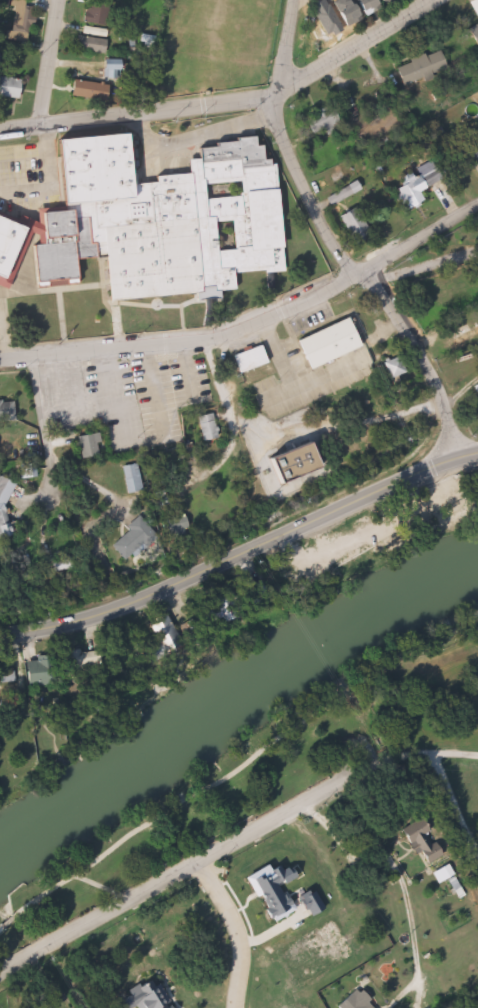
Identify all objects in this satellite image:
building: (93, 12)
building: (16, 19)
building: (91, 44)
road: (49, 65)
building: (101, 65)
building: (415, 67)
building: (7, 88)
building: (82, 91)
road: (230, 102)
building: (316, 120)
road: (281, 143)
building: (469, 151)
road: (45, 180)
building: (416, 186)
building: (153, 224)
road: (277, 300)
road: (3, 340)
building: (322, 345)
road: (31, 349)
building: (246, 359)
road: (418, 361)
road: (182, 363)
road: (71, 377)
road: (149, 383)
road: (112, 385)
parking lot: (165, 385)
building: (476, 389)
building: (115, 395)
building: (9, 411)
road: (225, 412)
building: (92, 446)
building: (302, 463)
road: (65, 475)
building: (136, 478)
building: (8, 511)
building: (144, 531)
road: (240, 544)
building: (229, 608)
building: (166, 642)
building: (86, 663)
building: (45, 673)
building: (9, 677)
road: (456, 752)
road: (242, 770)
road: (317, 790)
building: (412, 838)
building: (313, 877)
road: (227, 933)
building: (339, 934)
road: (53, 940)
building: (352, 1001)

